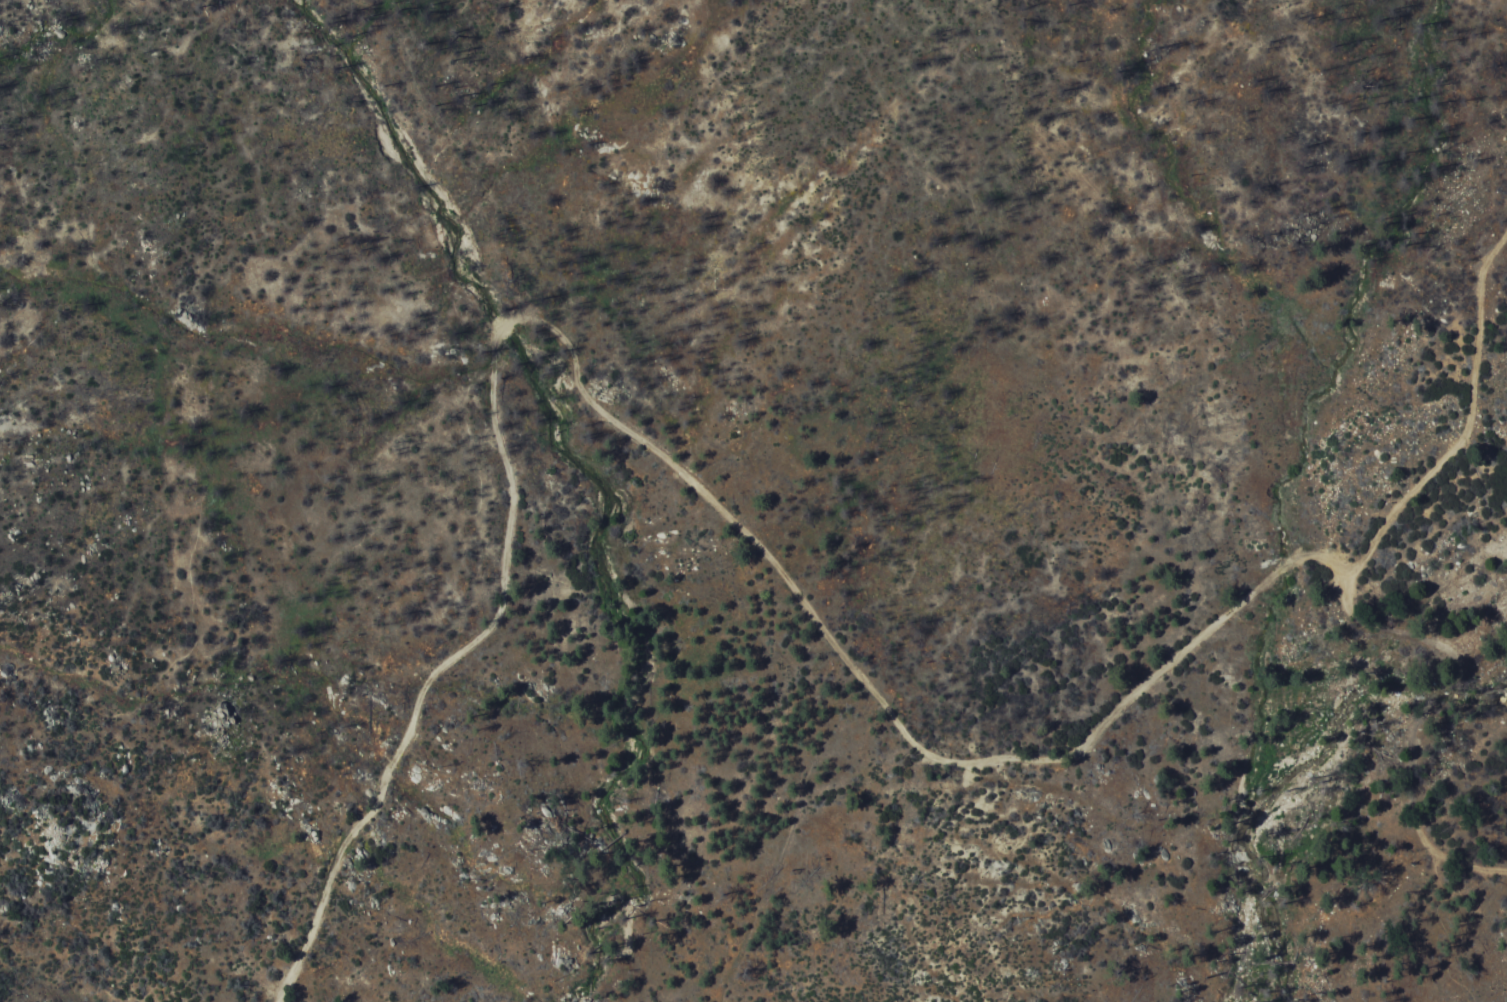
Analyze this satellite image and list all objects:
road: (1460, 434)
road: (638, 441)
road: (1429, 730)
road: (1475, 935)

